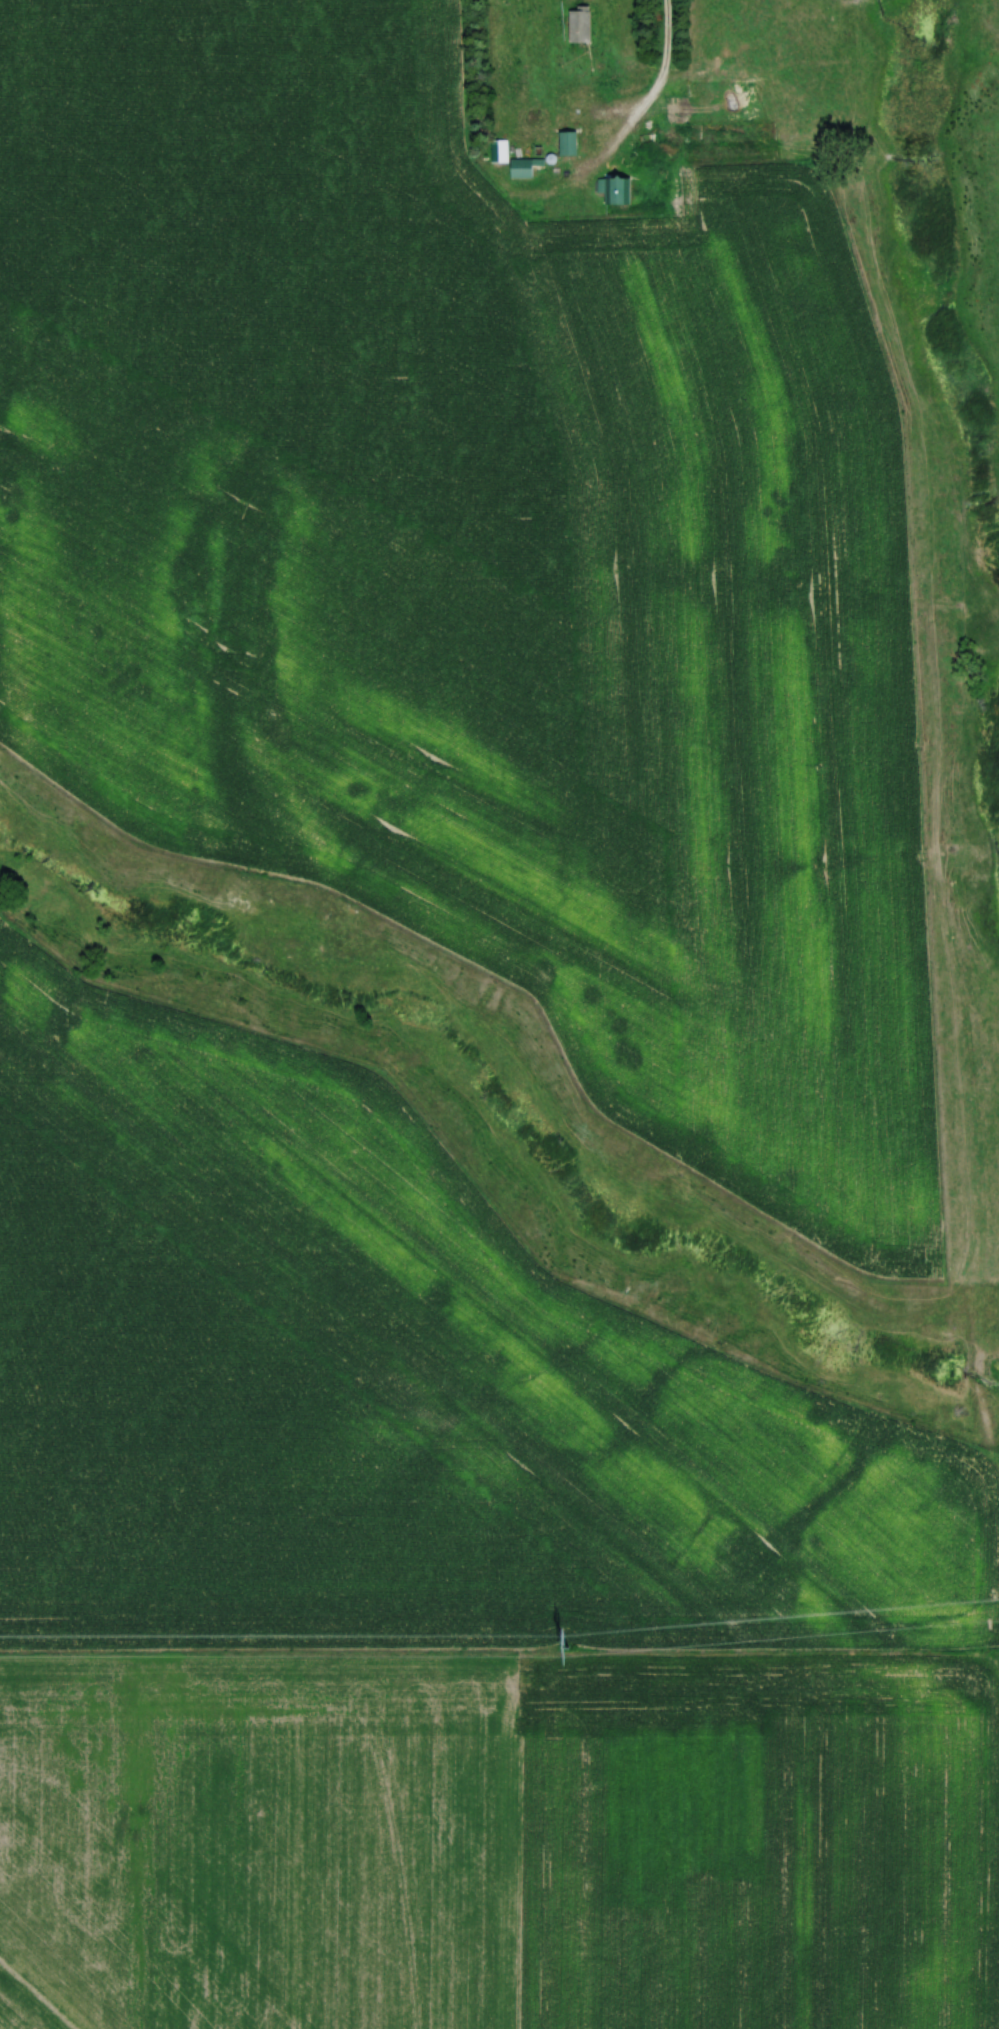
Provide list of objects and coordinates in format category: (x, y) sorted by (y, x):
road: (459, 105)
building: (676, 110)
building: (503, 151)
building: (525, 167)
power tower: (569, 1647)

